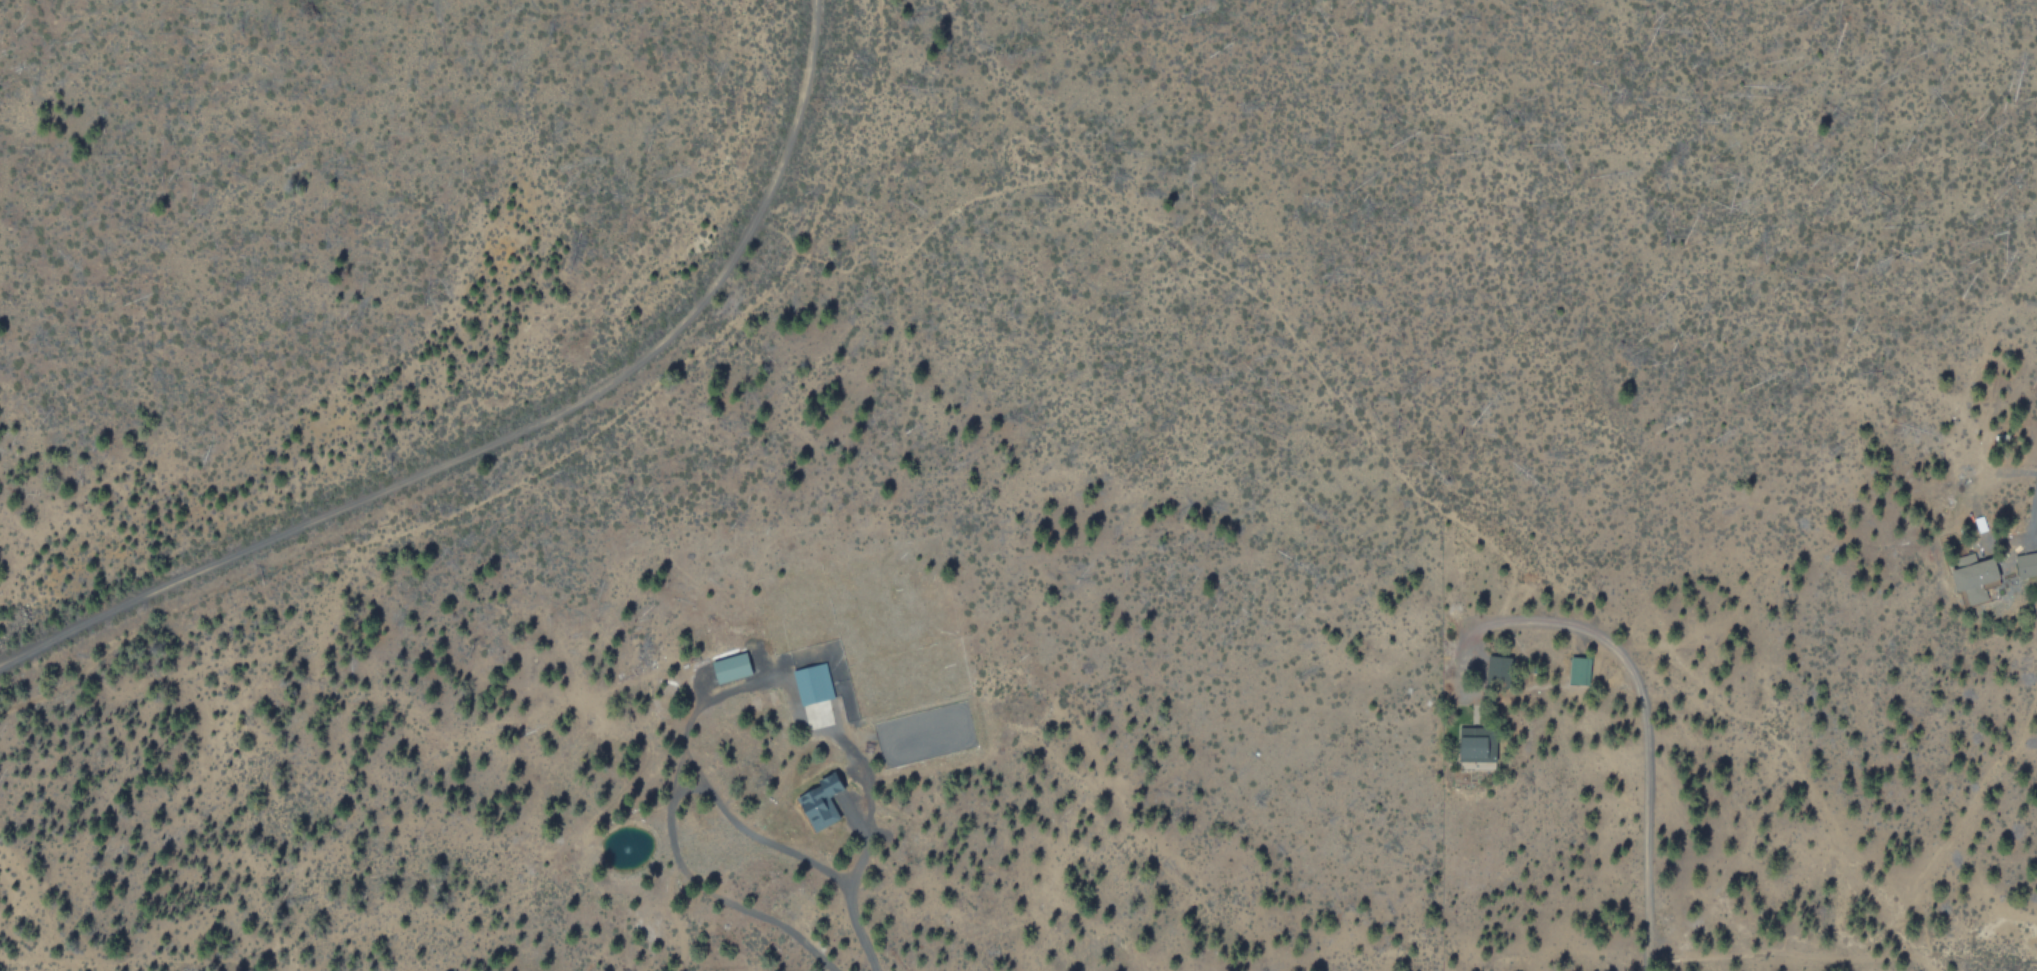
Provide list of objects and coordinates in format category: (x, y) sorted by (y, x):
road: (510, 436)
building: (2026, 564)
building: (1976, 579)
building: (730, 666)
building: (1497, 667)
building: (1578, 670)
building: (812, 682)
road: (1640, 733)
building: (1476, 744)
building: (820, 801)

